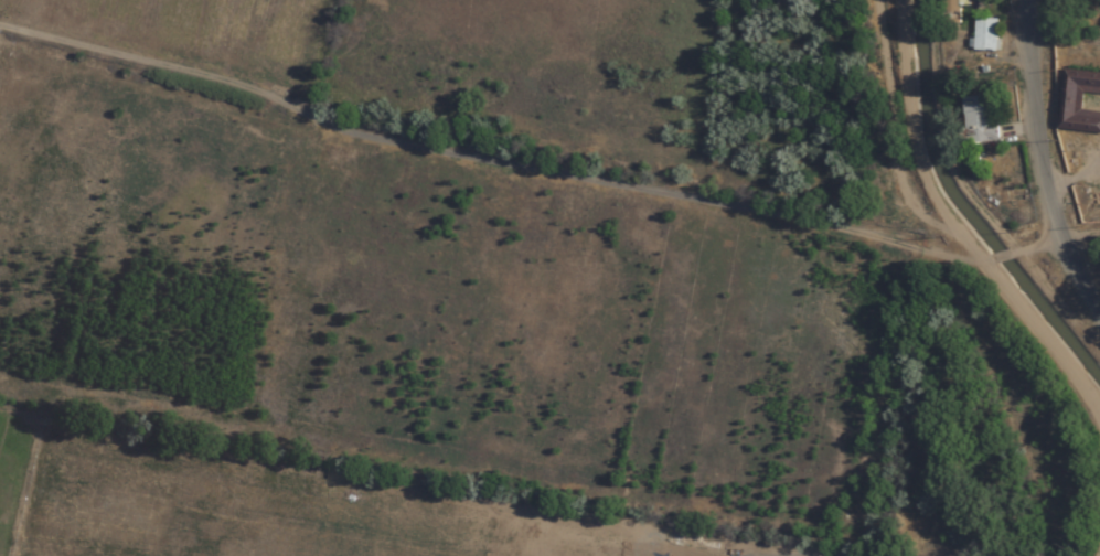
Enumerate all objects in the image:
building: (951, 12)
building: (984, 34)
building: (1078, 100)
building: (978, 119)
road: (1025, 178)

